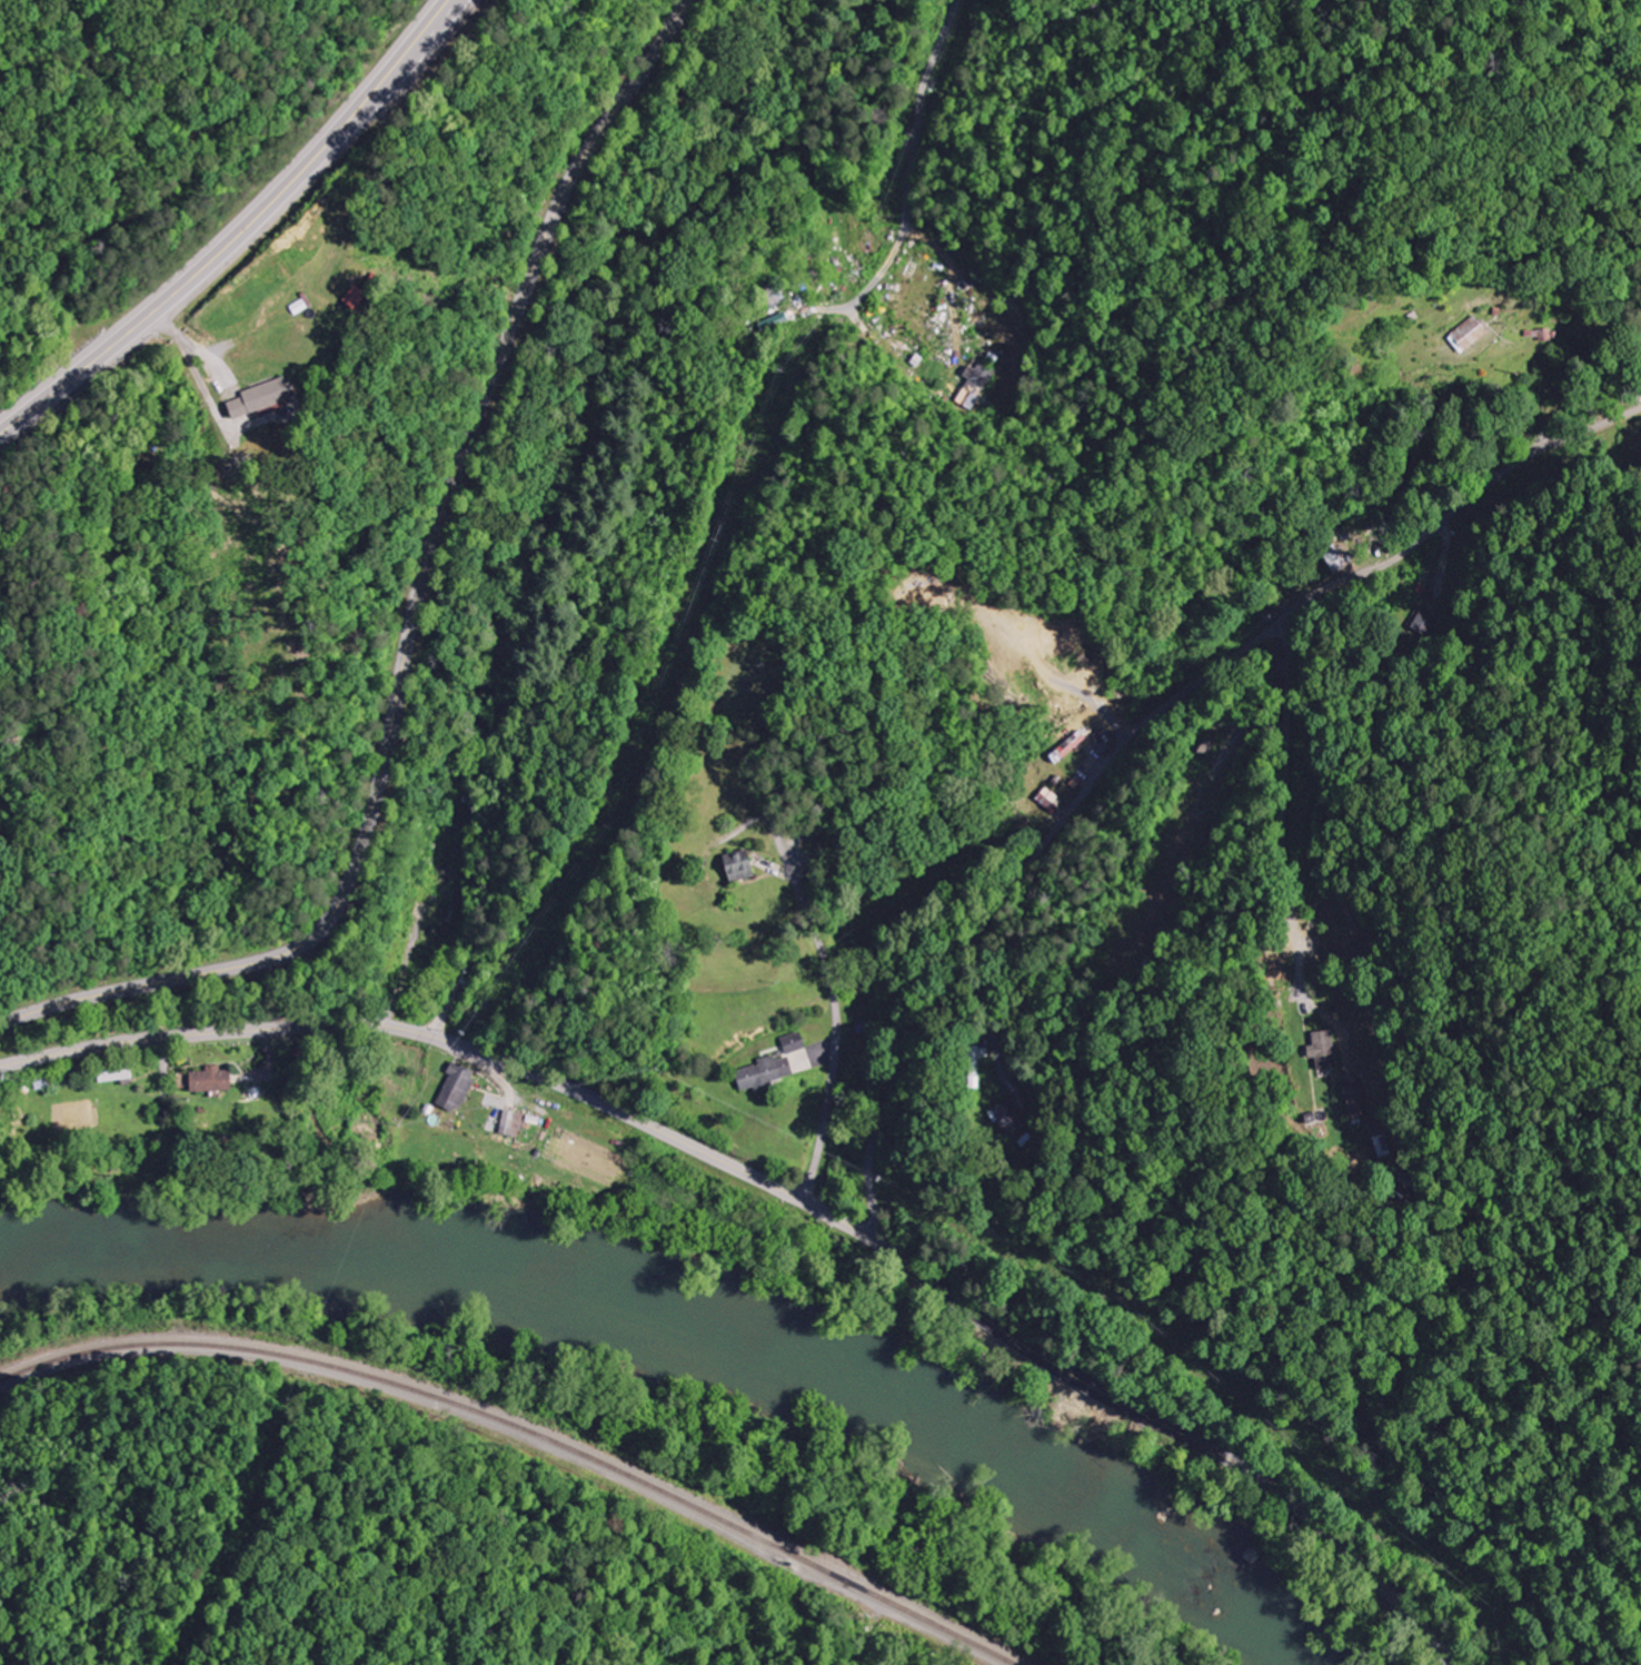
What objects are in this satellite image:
road: (915, 215)
road: (239, 232)
building: (359, 298)
building: (776, 321)
building: (1468, 335)
building: (982, 379)
building: (261, 403)
road: (420, 611)
building: (1423, 620)
road: (1130, 736)
building: (1066, 745)
building: (1047, 800)
road: (1362, 826)
building: (734, 866)
road: (1183, 883)
road: (836, 1027)
building: (793, 1043)
building: (1320, 1050)
building: (762, 1073)
building: (116, 1076)
building: (216, 1081)
building: (458, 1088)
building: (1012, 1117)
building: (511, 1124)
building: (1381, 1147)
road: (785, 1192)
river: (687, 1335)
railway: (527, 1430)

